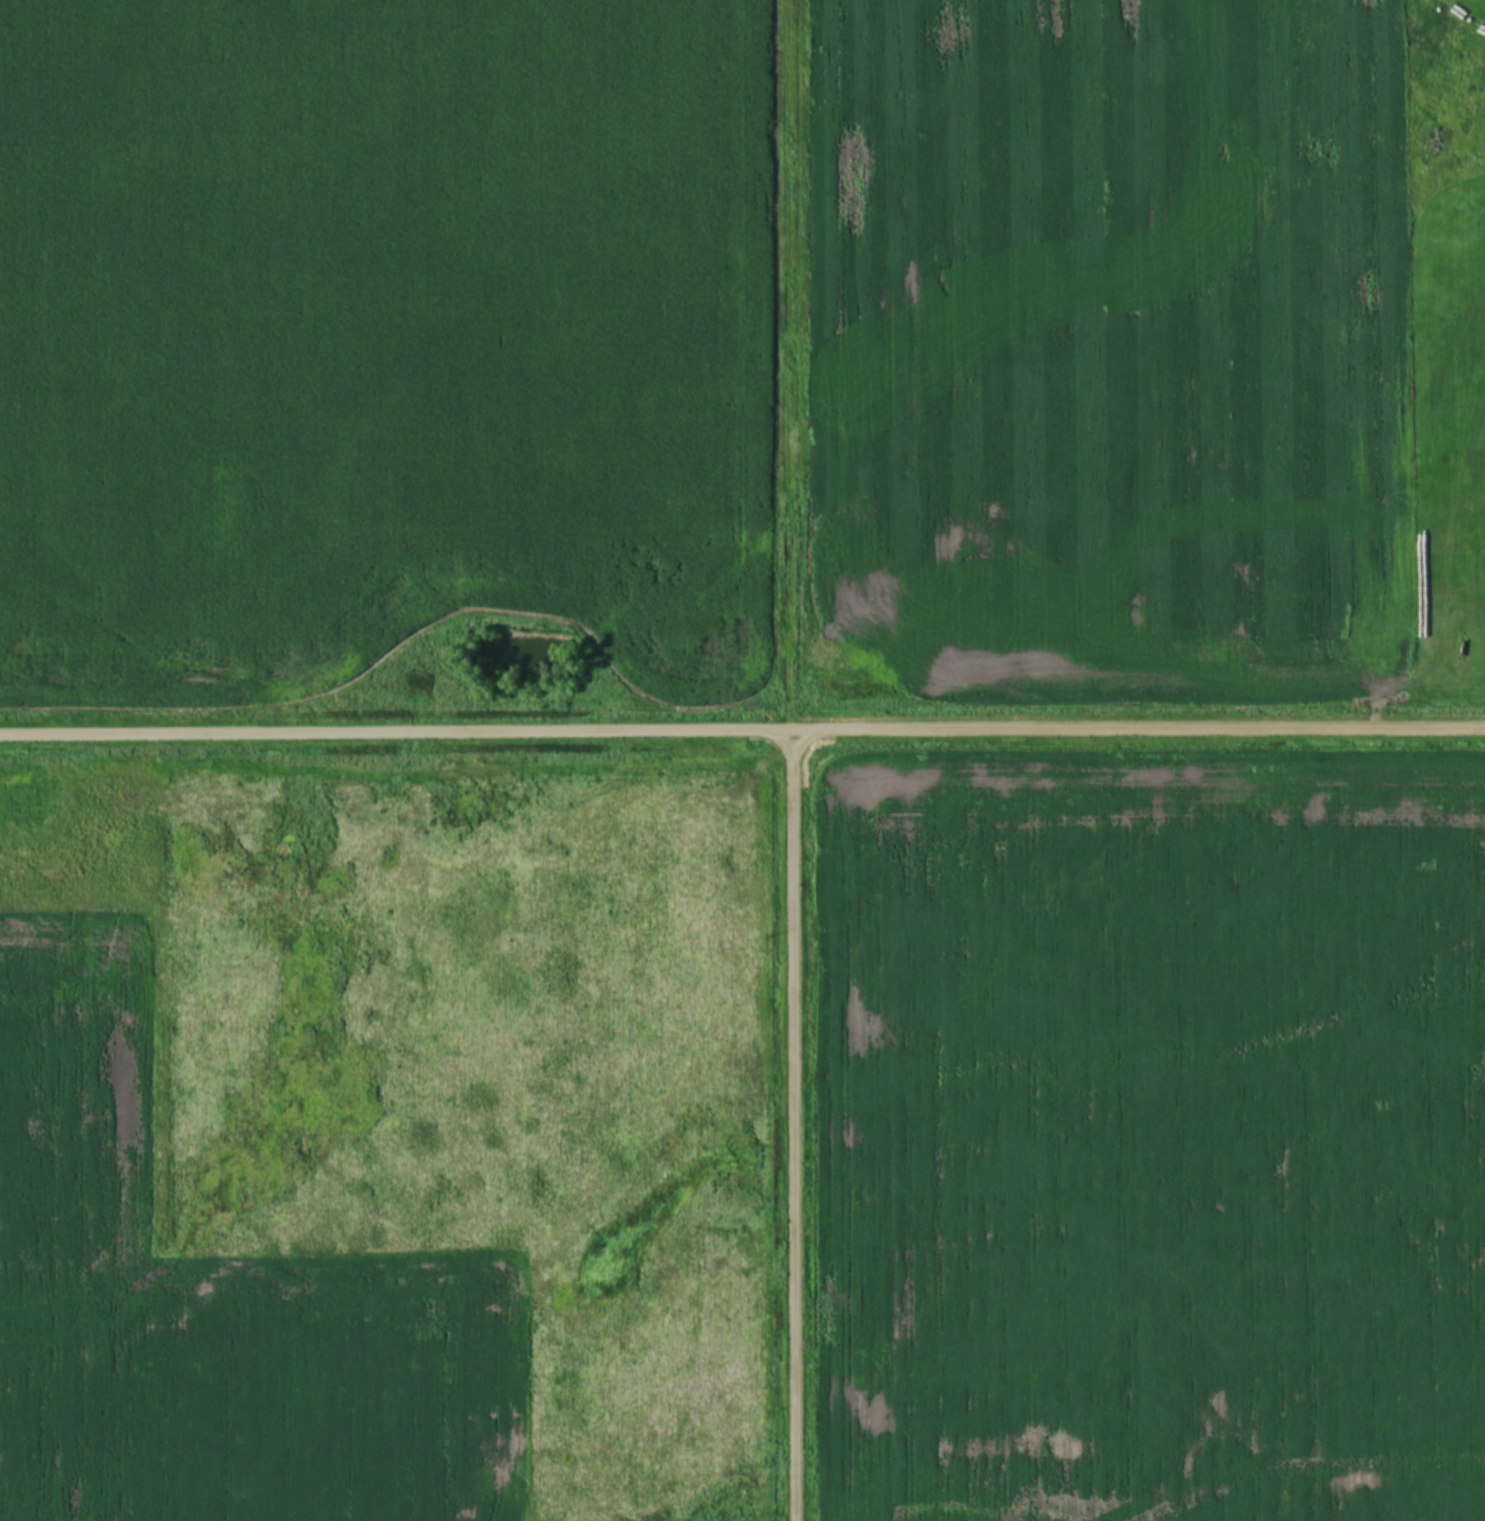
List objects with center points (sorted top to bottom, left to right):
building: (1447, 115)
road: (791, 361)
road: (742, 723)
road: (793, 1122)

